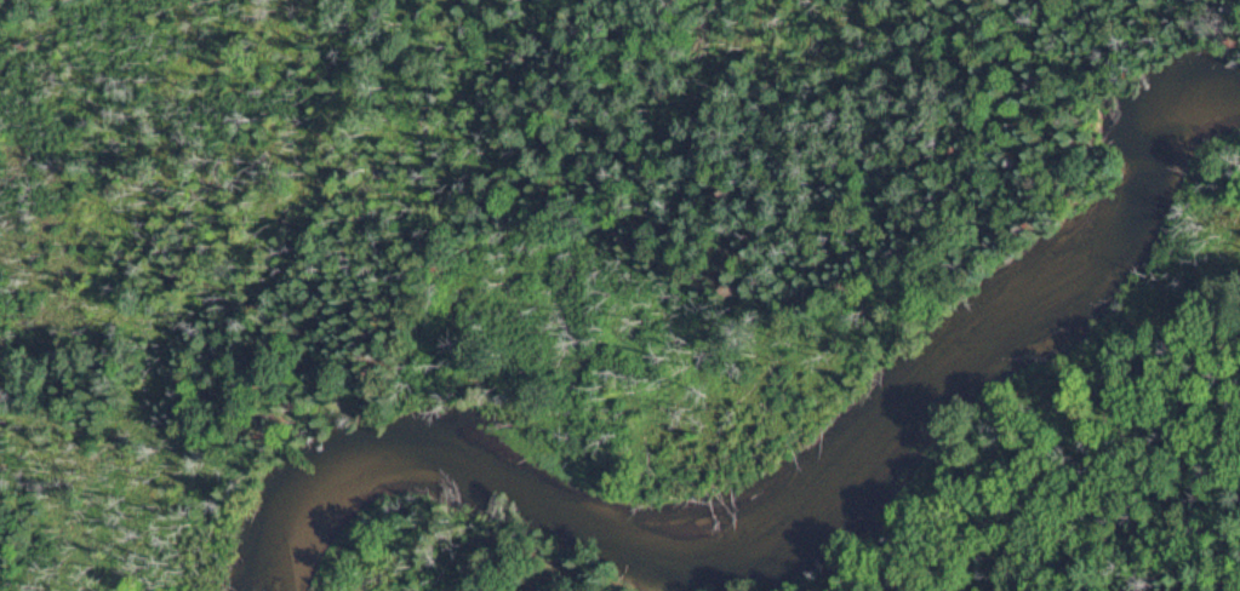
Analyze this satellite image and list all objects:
river: (802, 530)

